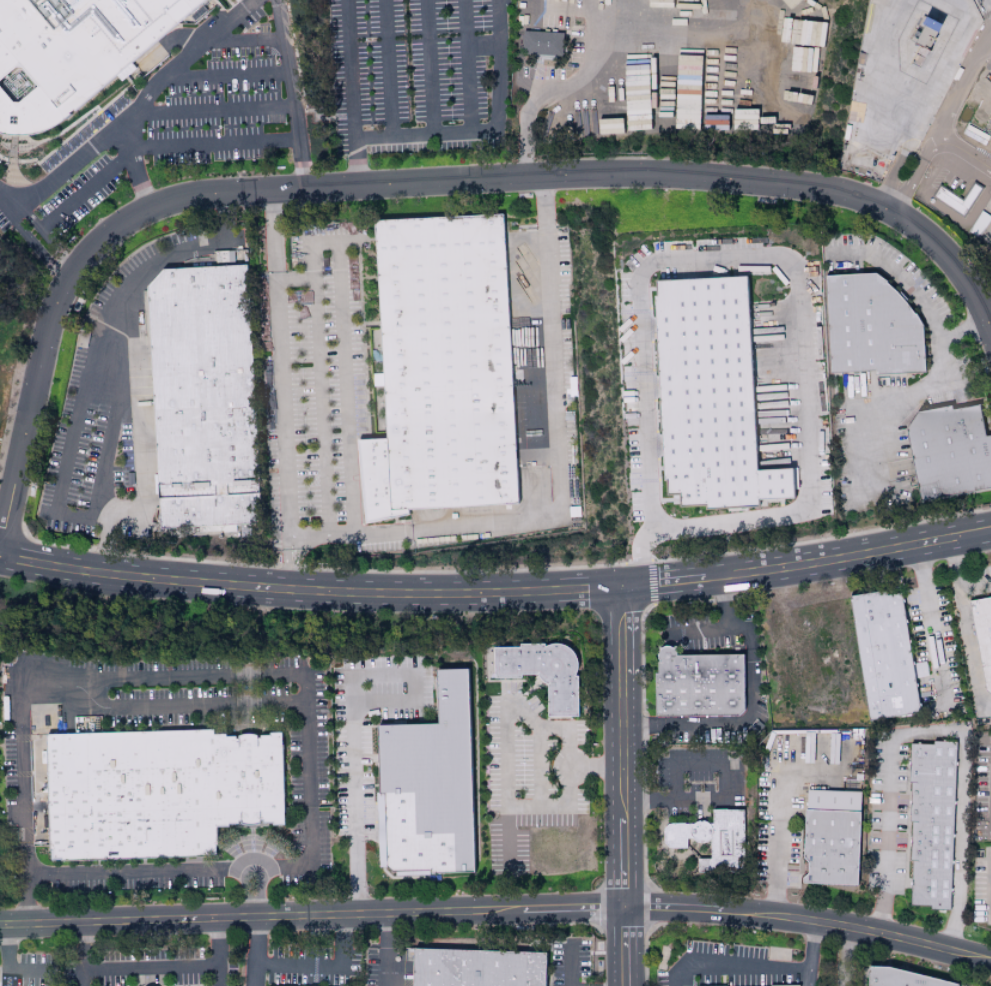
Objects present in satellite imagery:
road: (243, 37)
building: (540, 43)
building: (71, 53)
road: (426, 69)
road: (465, 69)
road: (387, 70)
road: (355, 71)
road: (227, 74)
road: (575, 82)
building: (809, 85)
road: (958, 89)
road: (154, 93)
road: (289, 95)
road: (212, 106)
building: (614, 125)
road: (493, 135)
road: (213, 145)
road: (905, 146)
road: (955, 152)
road: (361, 164)
road: (59, 175)
road: (408, 184)
road: (907, 185)
road: (73, 204)
road: (758, 254)
road: (913, 296)
park: (12, 312)
building: (873, 327)
building: (444, 371)
road: (317, 374)
road: (281, 390)
building: (706, 397)
building: (205, 398)
road: (349, 409)
road: (847, 444)
road: (554, 445)
building: (952, 451)
road: (98, 477)
road: (990, 531)
road: (847, 559)
road: (664, 585)
road: (975, 588)
road: (310, 590)
road: (930, 623)
road: (724, 628)
road: (965, 630)
road: (623, 631)
building: (981, 639)
building: (880, 654)
building: (545, 674)
road: (219, 679)
building: (695, 682)
road: (186, 706)
road: (353, 716)
road: (737, 726)
road: (505, 727)
road: (934, 733)
road: (571, 766)
road: (598, 767)
road: (673, 767)
building: (429, 788)
building: (158, 792)
road: (776, 814)
building: (928, 825)
road: (624, 829)
building: (828, 836)
building: (710, 839)
road: (137, 872)
road: (498, 910)
road: (218, 941)
road: (78, 944)
road: (385, 950)
road: (845, 958)
road: (322, 962)
road: (159, 964)
road: (568, 965)
road: (3, 966)
building: (479, 968)
road: (763, 972)
road: (6, 973)
road: (77, 976)
building: (908, 979)
road: (813, 981)
building: (766, 985)

